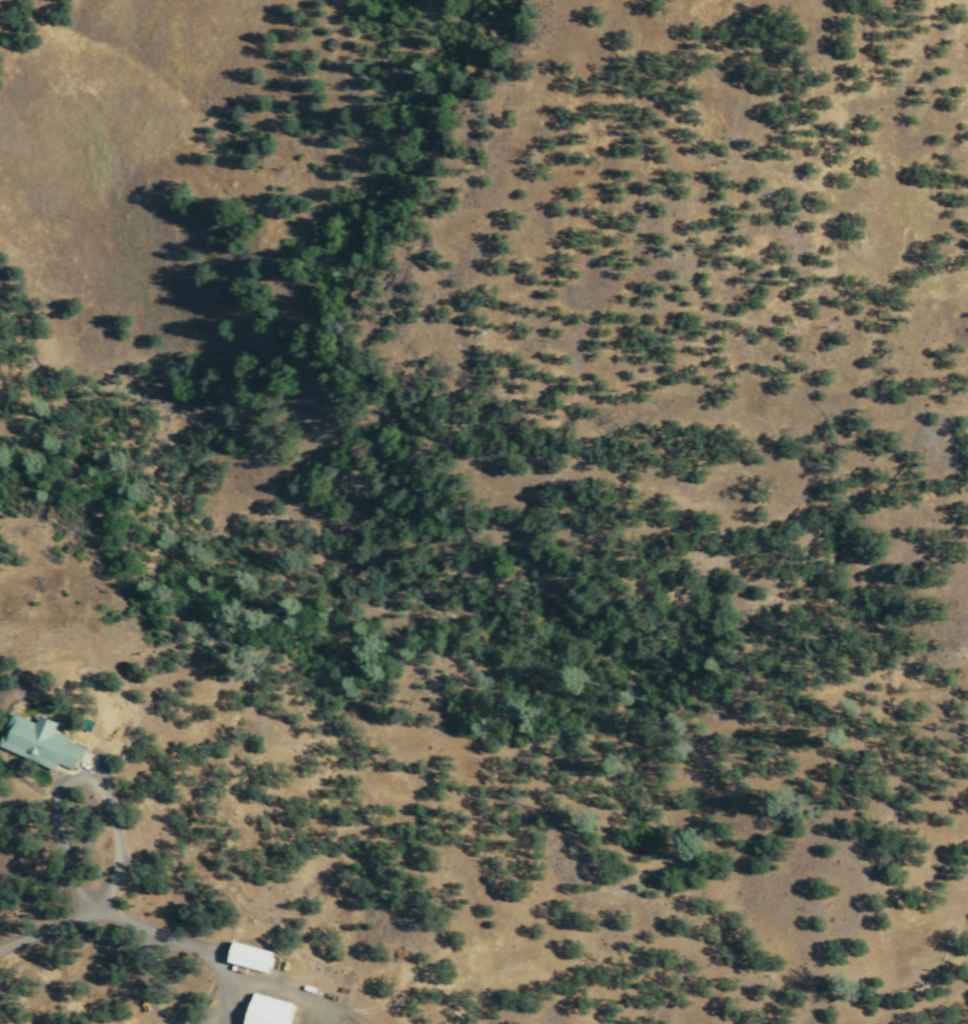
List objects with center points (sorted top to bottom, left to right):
building: (40, 742)
building: (251, 957)
road: (347, 1010)
building: (268, 1011)

